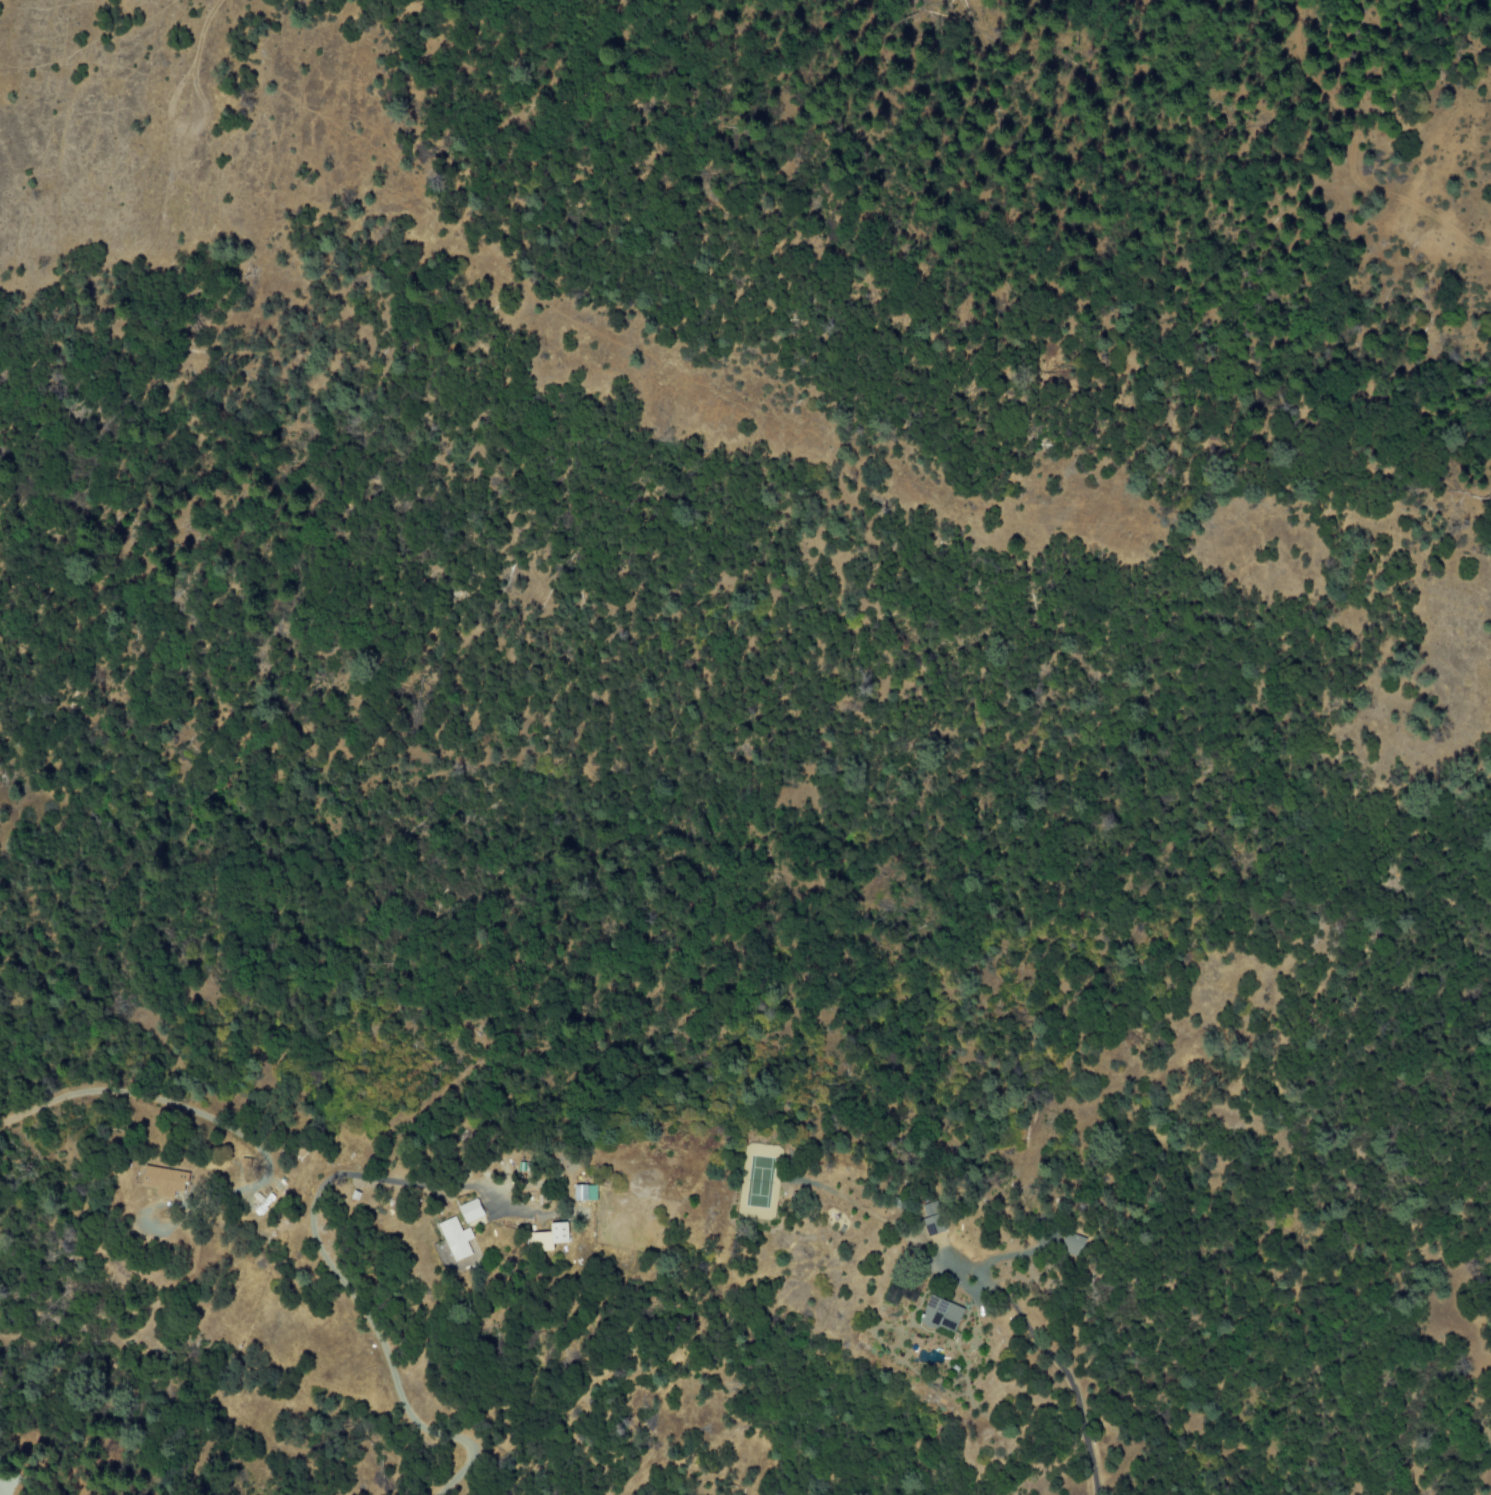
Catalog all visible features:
building: (164, 1182)
building: (584, 1193)
building: (470, 1212)
building: (932, 1219)
building: (455, 1239)
building: (549, 1239)
building: (1074, 1246)
building: (941, 1317)
road: (1076, 1393)

